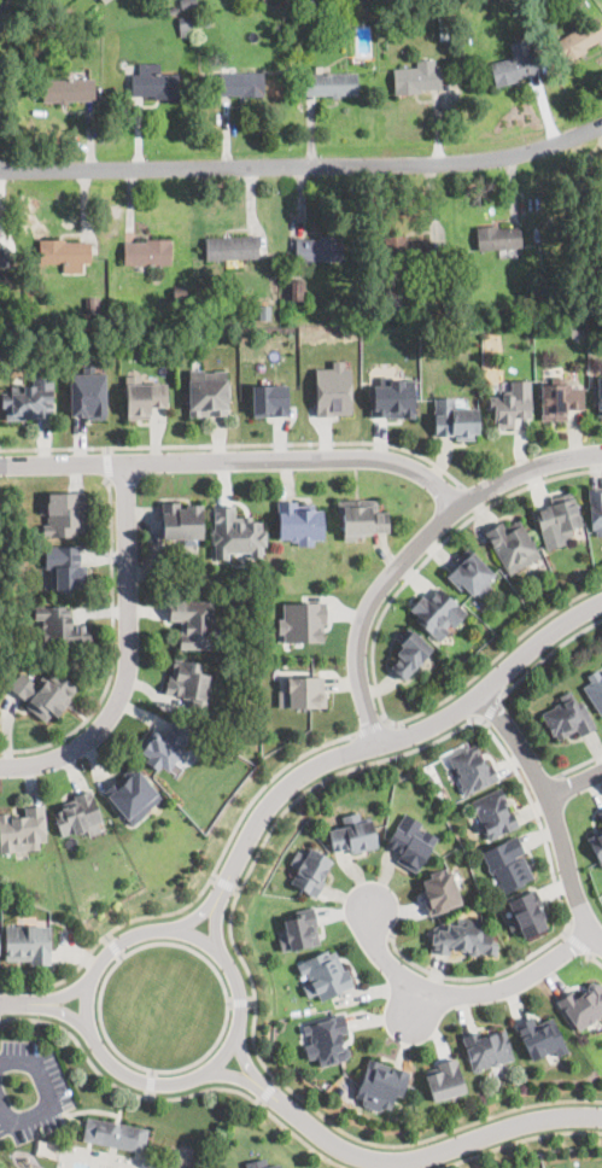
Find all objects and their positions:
road: (0, 1)
building: (105, 1)
building: (188, 4)
building: (574, 5)
building: (173, 11)
building: (321, 11)
building: (304, 13)
building: (446, 13)
building: (206, 22)
building: (187, 25)
building: (71, 31)
building: (445, 31)
building: (578, 40)
building: (514, 64)
building: (416, 77)
building: (153, 82)
building: (240, 83)
building: (329, 83)
building: (68, 88)
road: (303, 163)
building: (497, 236)
building: (230, 247)
building: (601, 247)
building: (318, 249)
building: (405, 250)
building: (147, 252)
building: (65, 253)
building: (4, 256)
building: (298, 290)
building: (179, 291)
building: (548, 293)
building: (397, 302)
building: (382, 303)
building: (93, 306)
building: (263, 315)
building: (333, 389)
building: (87, 392)
building: (209, 392)
building: (598, 392)
building: (144, 396)
building: (392, 397)
building: (269, 398)
building: (559, 398)
building: (29, 399)
building: (512, 404)
building: (455, 420)
road: (236, 444)
road: (106, 450)
road: (236, 460)
road: (109, 465)
road: (473, 498)
building: (596, 508)
building: (65, 513)
building: (361, 516)
building: (559, 519)
building: (182, 521)
building: (299, 521)
building: (236, 532)
building: (513, 543)
road: (414, 549)
building: (66, 566)
building: (471, 573)
building: (438, 612)
building: (302, 620)
building: (195, 623)
building: (62, 626)
road: (112, 649)
road: (549, 653)
road: (127, 654)
building: (407, 654)
road: (373, 662)
building: (189, 682)
building: (595, 690)
building: (45, 691)
building: (305, 691)
road: (492, 706)
building: (568, 718)
road: (370, 729)
road: (388, 740)
building: (164, 744)
road: (579, 765)
building: (473, 767)
building: (428, 777)
road: (577, 783)
road: (544, 789)
building: (134, 793)
road: (554, 810)
building: (495, 812)
building: (78, 813)
building: (600, 814)
road: (539, 822)
building: (23, 829)
building: (355, 833)
building: (411, 841)
building: (596, 845)
building: (508, 863)
building: (310, 869)
road: (215, 877)
road: (226, 883)
road: (238, 889)
building: (440, 890)
road: (199, 893)
building: (527, 912)
road: (195, 918)
road: (216, 928)
building: (299, 929)
building: (463, 938)
road: (107, 939)
building: (28, 942)
road: (579, 944)
road: (115, 947)
road: (121, 956)
road: (595, 957)
road: (93, 973)
building: (323, 974)
road: (473, 979)
road: (456, 992)
road: (69, 994)
road: (23, 1001)
road: (252, 1001)
road: (230, 1003)
road: (240, 1003)
road: (414, 1003)
road: (256, 1004)
building: (583, 1005)
road: (68, 1012)
building: (539, 1038)
building: (327, 1039)
building: (486, 1047)
road: (245, 1061)
road: (141, 1067)
road: (152, 1074)
road: (232, 1074)
building: (444, 1079)
road: (150, 1082)
road: (276, 1082)
building: (381, 1084)
road: (268, 1092)
road: (148, 1094)
road: (171, 1099)
road: (261, 1102)
road: (57, 1106)
building: (116, 1133)
road: (519, 1141)
road: (419, 1156)
building: (261, 1163)

